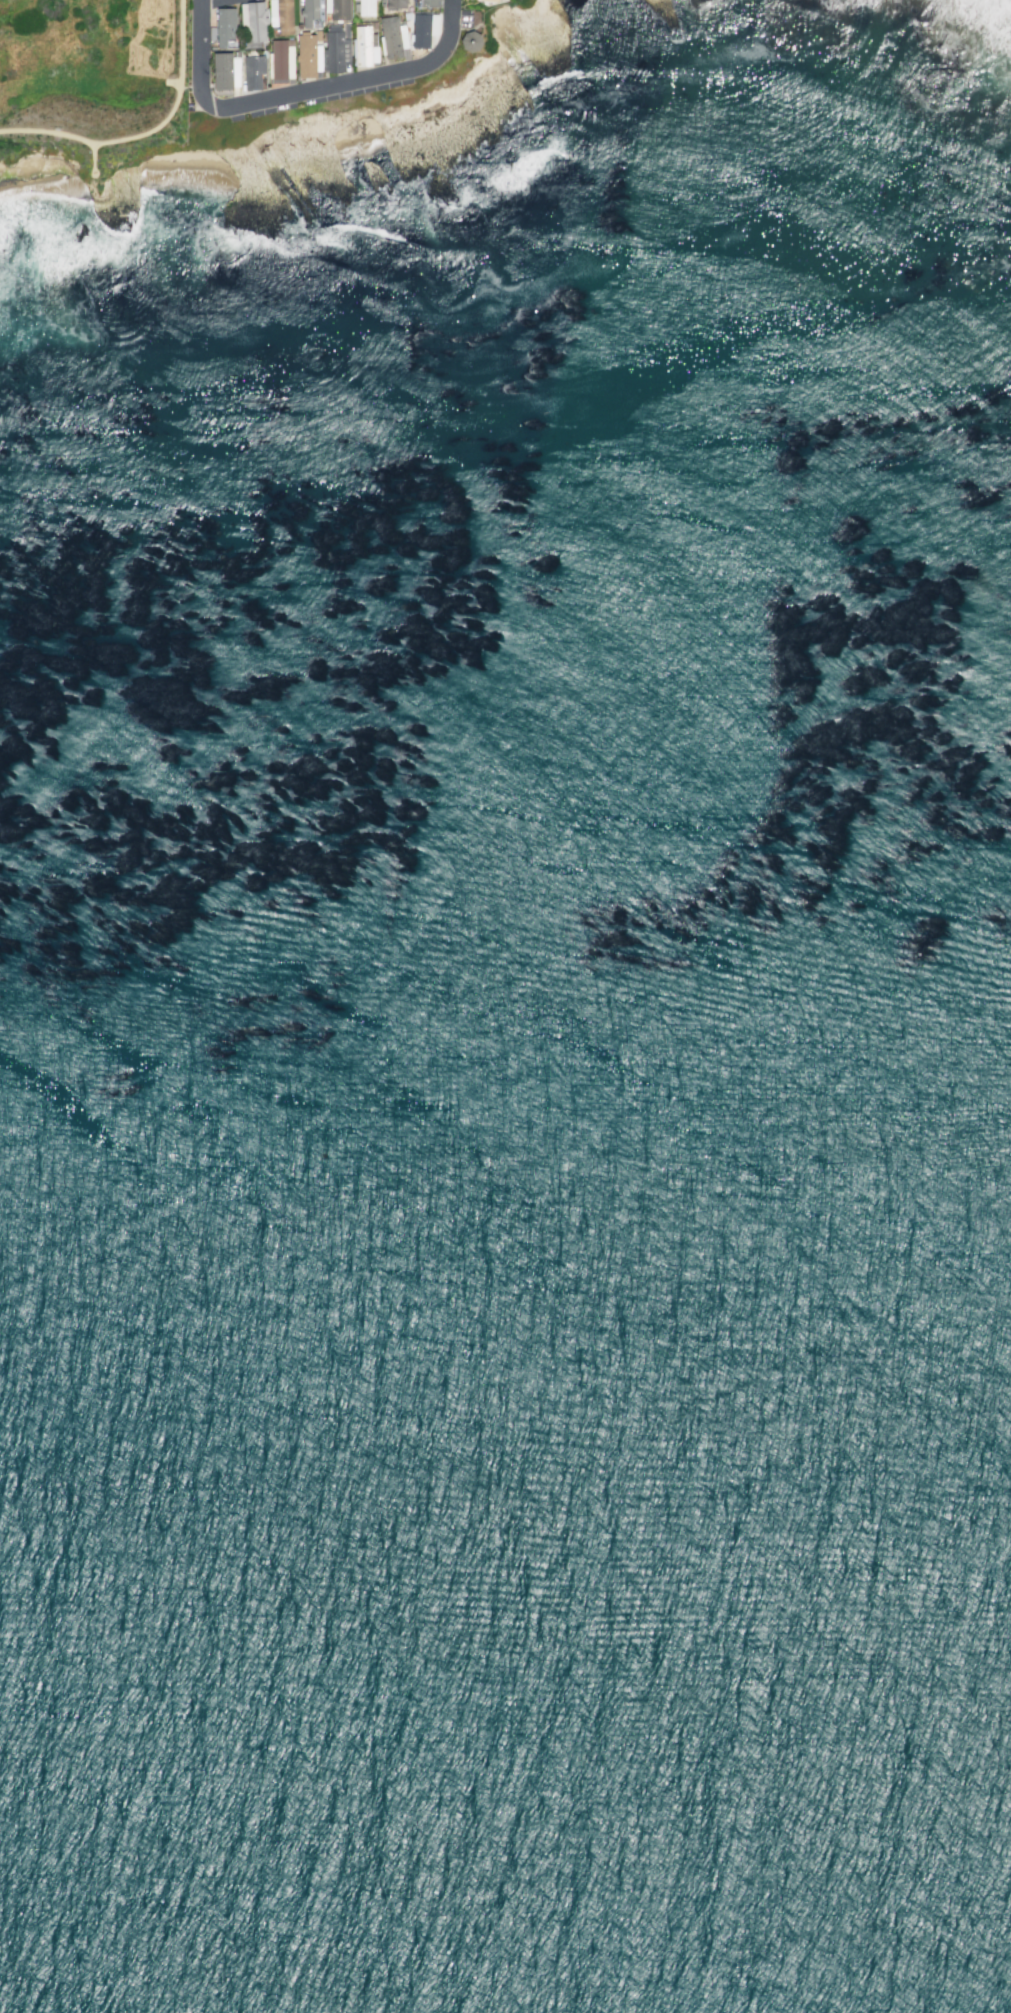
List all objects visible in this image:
building: (495, 0)
road: (214, 2)
building: (429, 3)
building: (393, 4)
building: (364, 6)
building: (337, 8)
building: (311, 13)
building: (281, 15)
building: (407, 15)
parking lot: (465, 17)
building: (254, 20)
building: (374, 24)
building: (224, 26)
building: (423, 28)
building: (392, 37)
building: (471, 40)
road: (179, 46)
building: (363, 46)
building: (336, 49)
building: (308, 54)
building: (280, 60)
building: (225, 70)
building: (253, 71)
road: (172, 82)
road: (303, 96)
road: (99, 141)
road: (92, 156)

